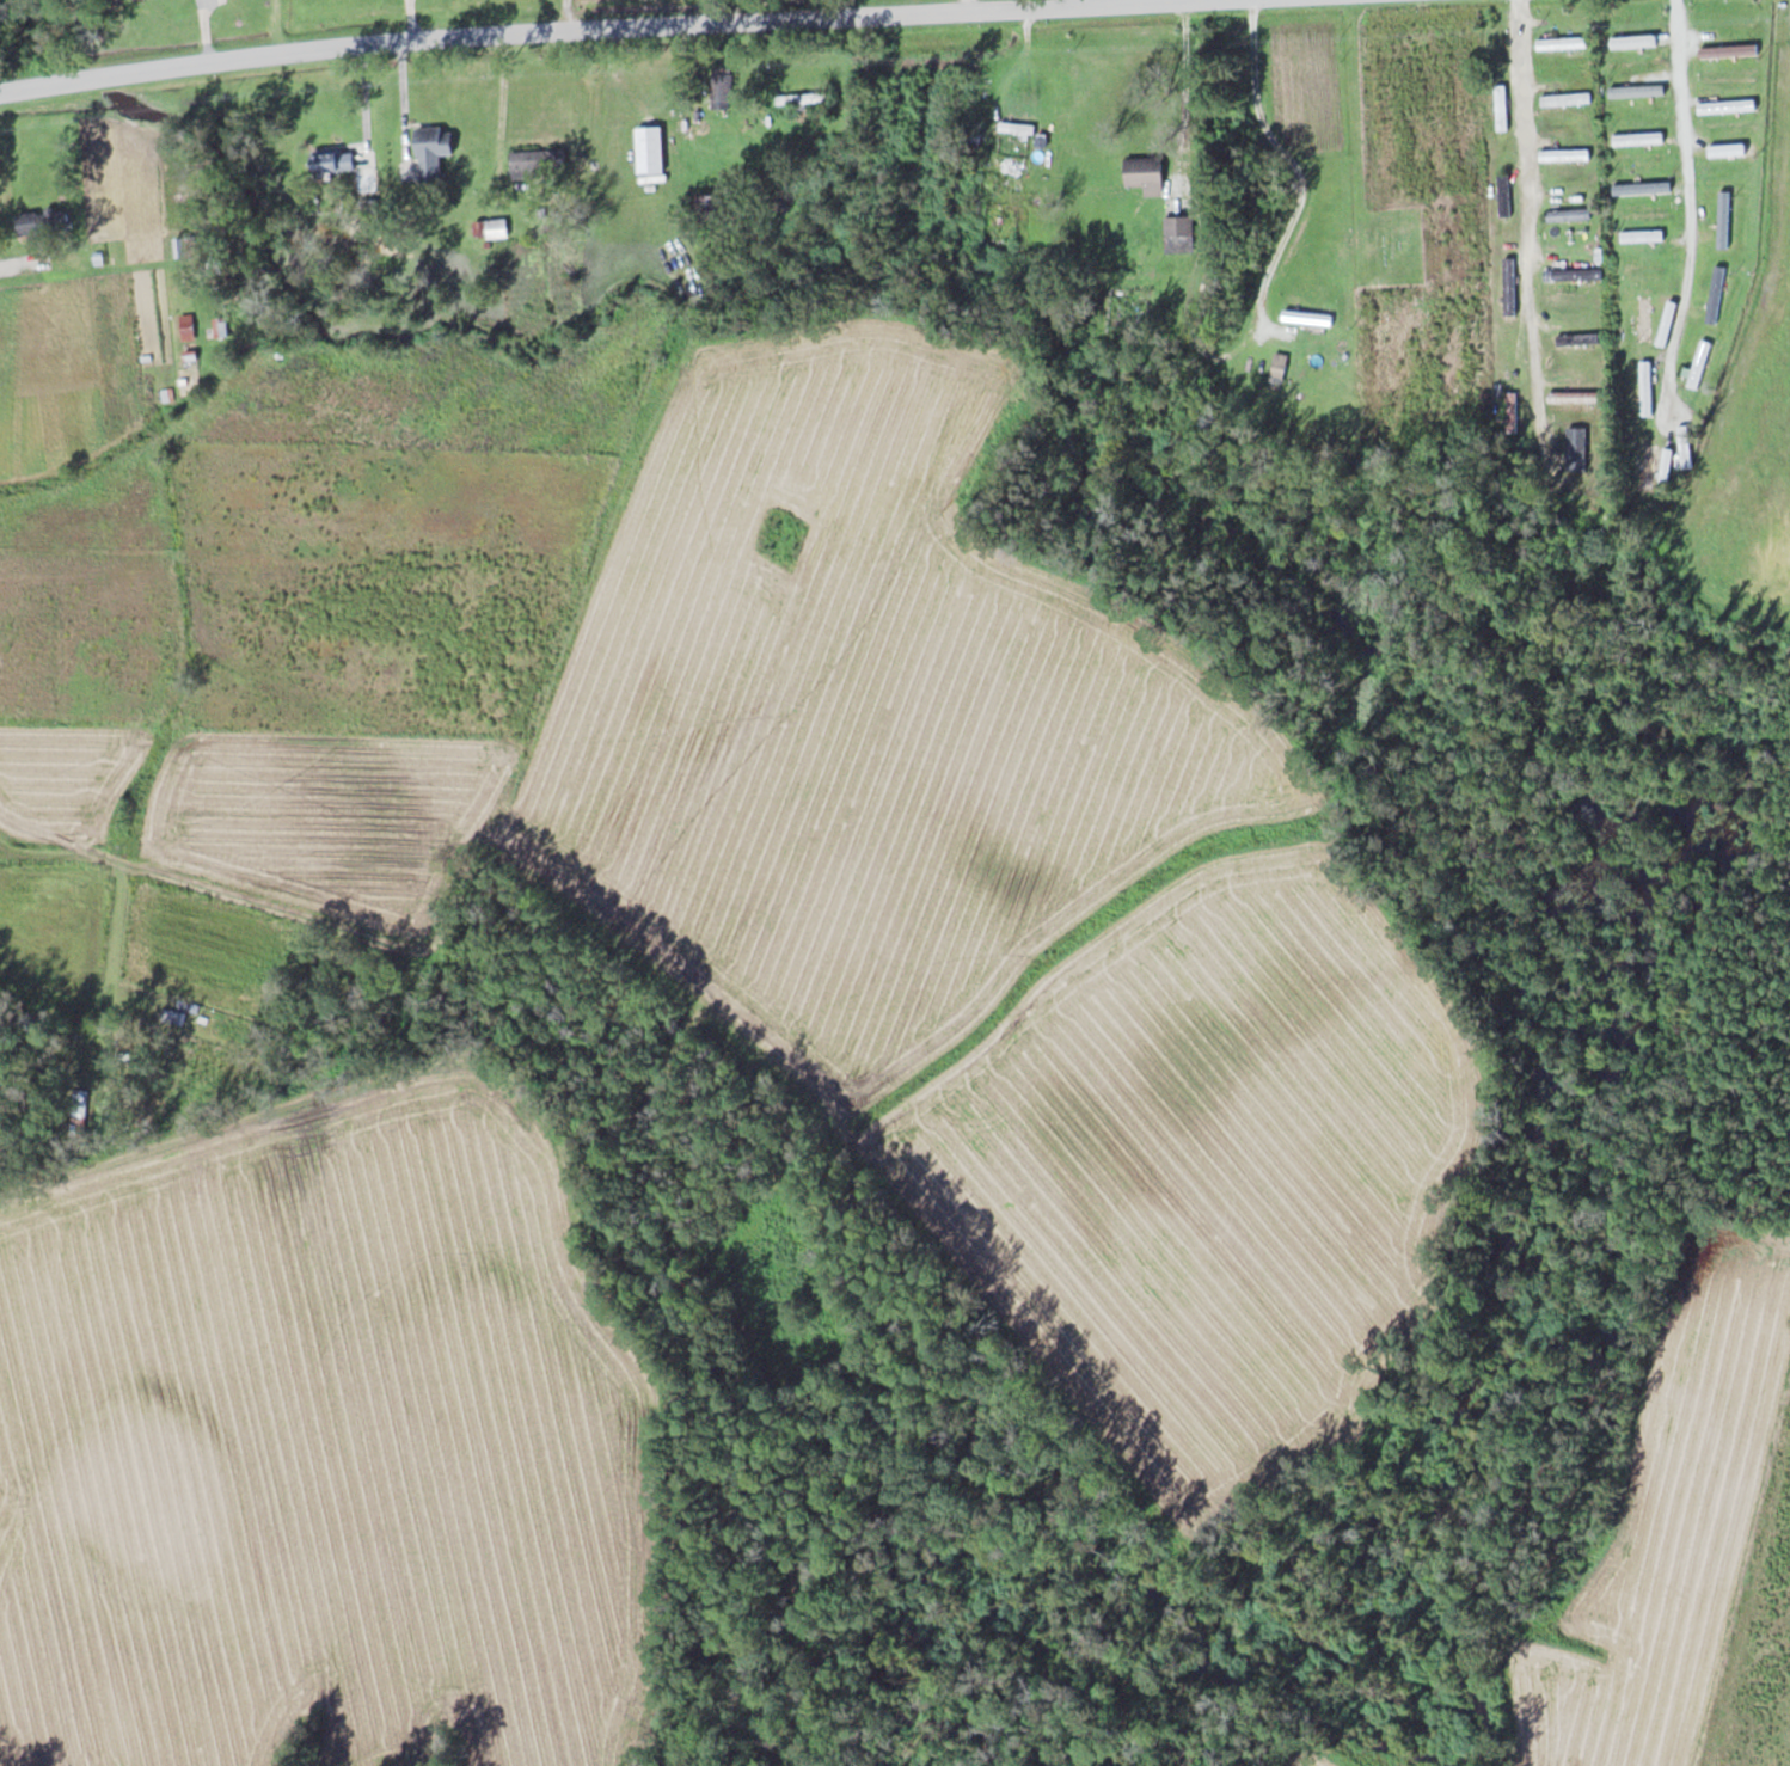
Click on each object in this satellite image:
road: (515, 30)
building: (1561, 42)
building: (1728, 49)
building: (1636, 90)
building: (722, 91)
building: (802, 98)
building: (1564, 98)
building: (1727, 105)
building: (1501, 106)
building: (1017, 127)
building: (1638, 137)
building: (1731, 148)
building: (650, 151)
building: (1565, 154)
building: (332, 160)
building: (538, 164)
building: (1146, 173)
building: (1642, 186)
building: (1503, 194)
building: (709, 203)
building: (1569, 214)
building: (1723, 217)
building: (42, 223)
building: (485, 228)
building: (1182, 231)
building: (1642, 235)
building: (185, 246)
building: (1574, 274)
building: (1509, 284)
building: (1715, 293)
building: (1307, 317)
building: (1643, 317)
building: (186, 326)
building: (221, 327)
building: (1578, 338)
building: (1280, 363)
building: (1699, 363)
building: (1645, 387)
building: (1580, 395)
building: (1581, 452)
building: (1648, 466)
building: (172, 1017)

